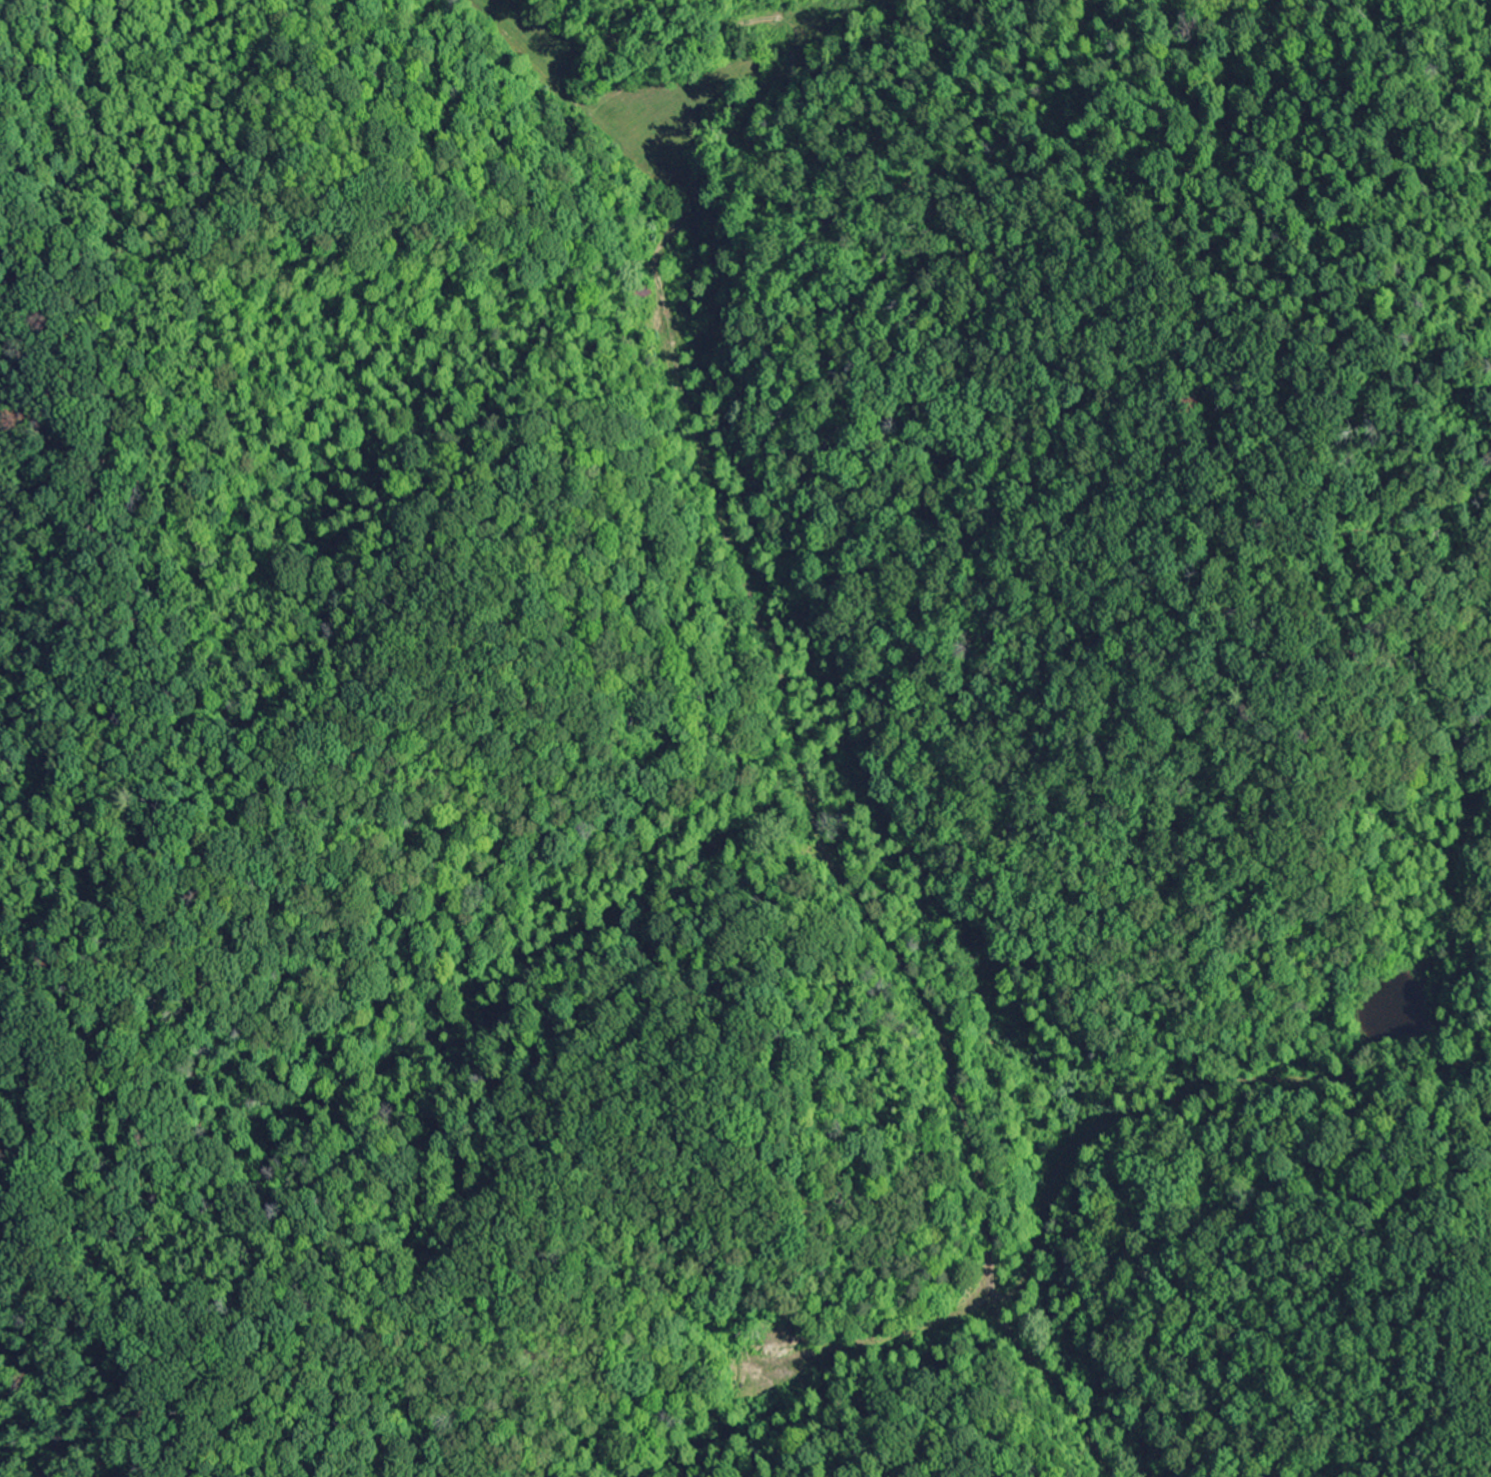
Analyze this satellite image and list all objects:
road: (671, 515)

